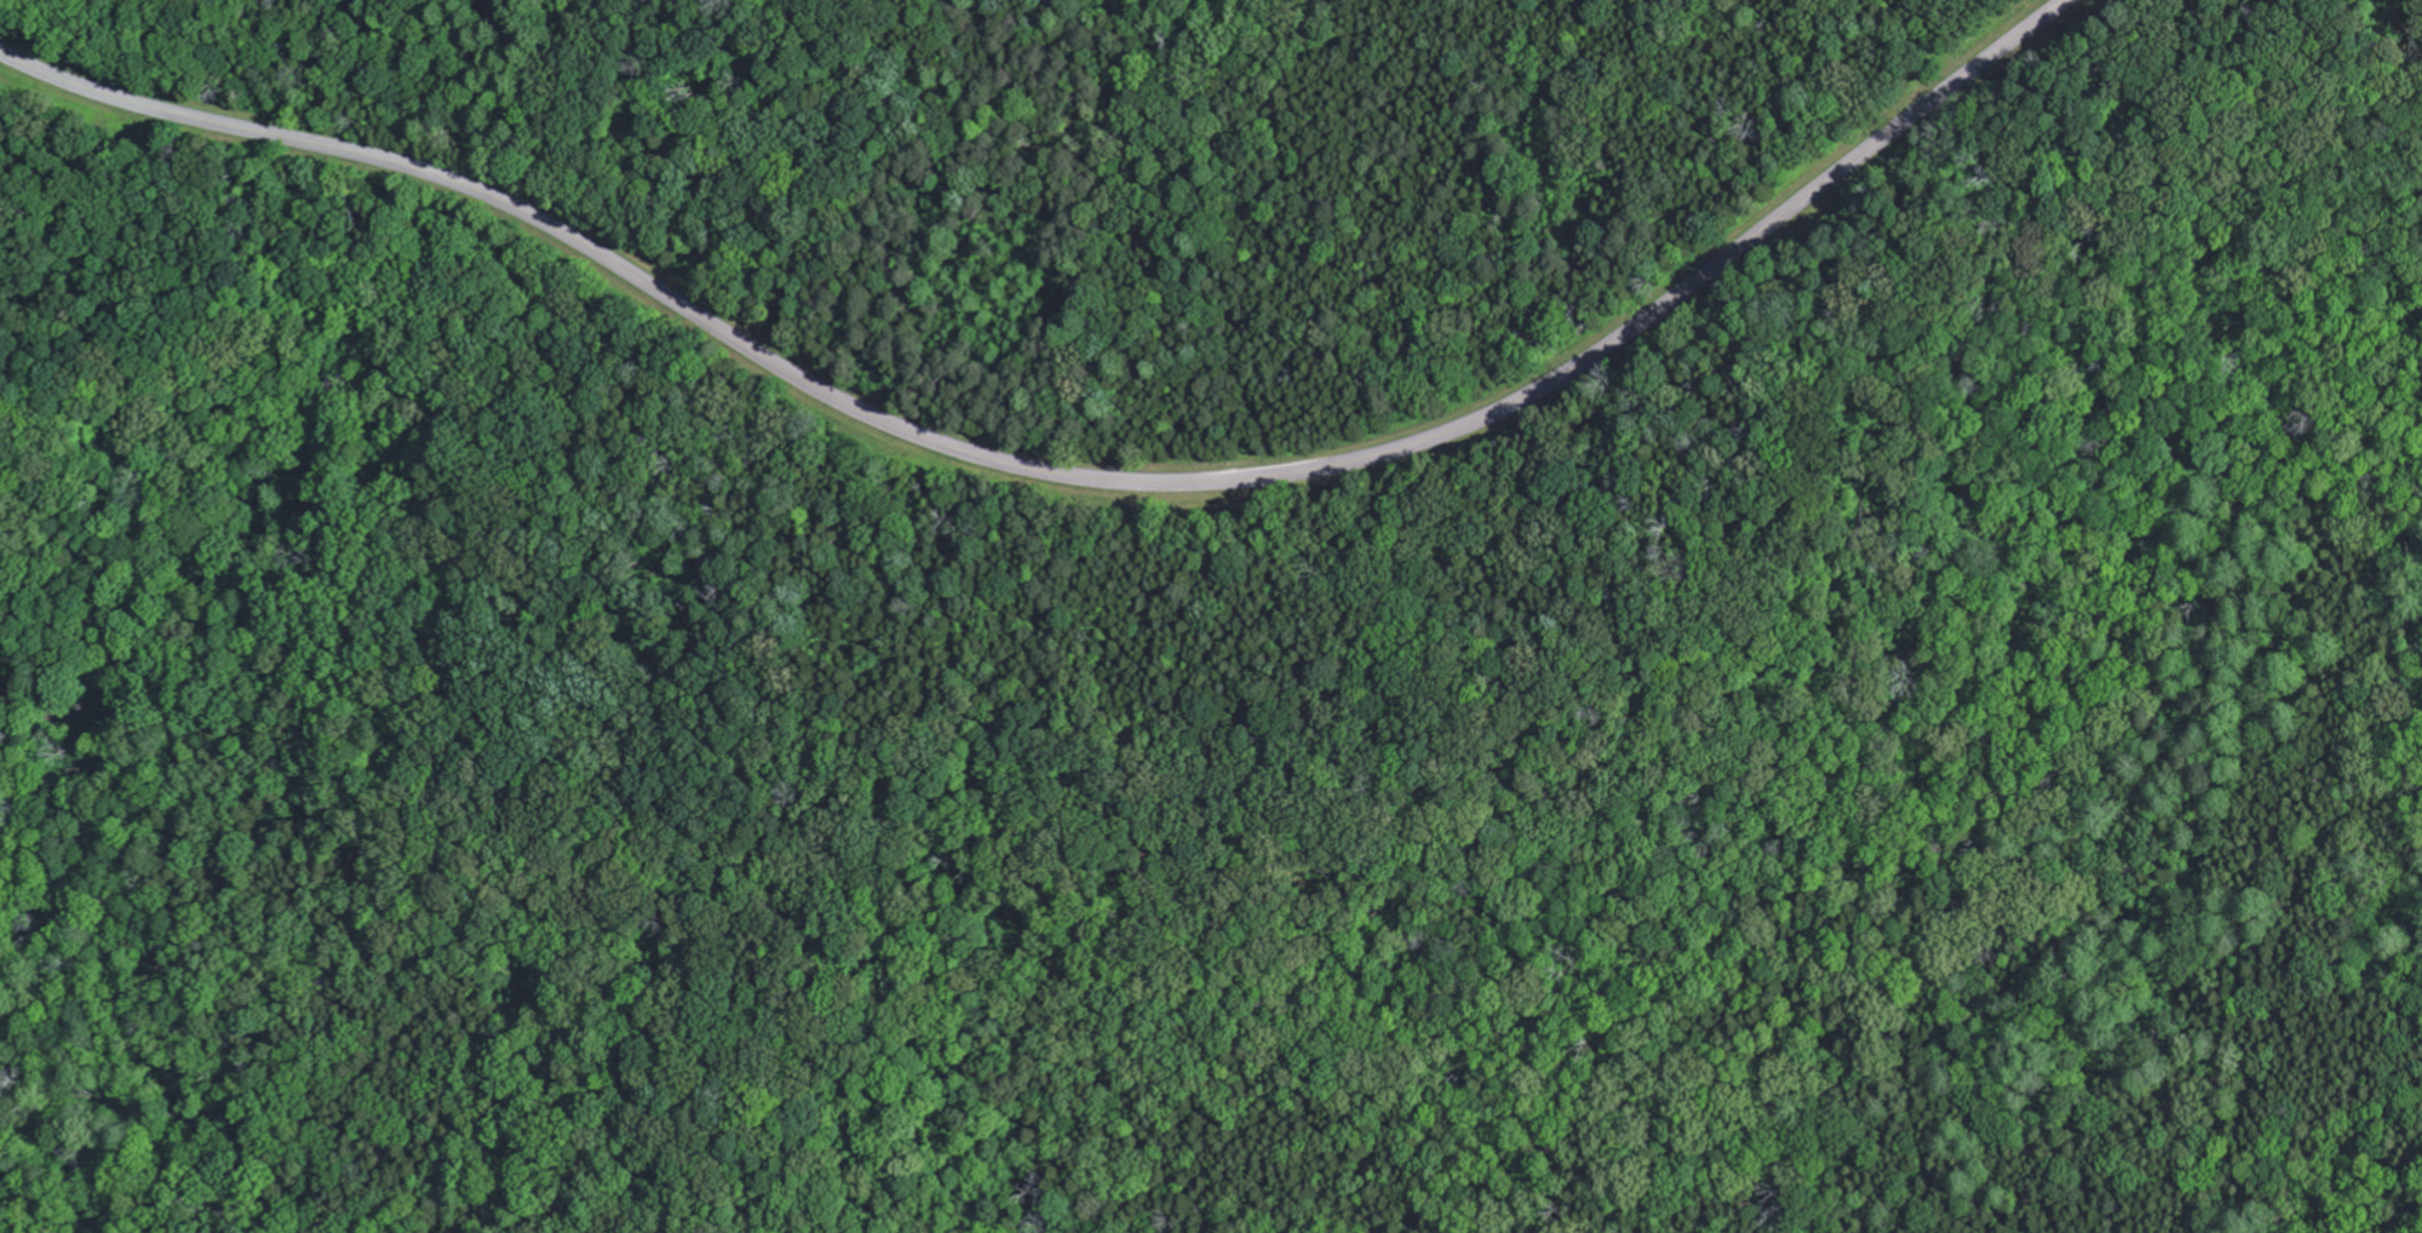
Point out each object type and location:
road: (1071, 471)

